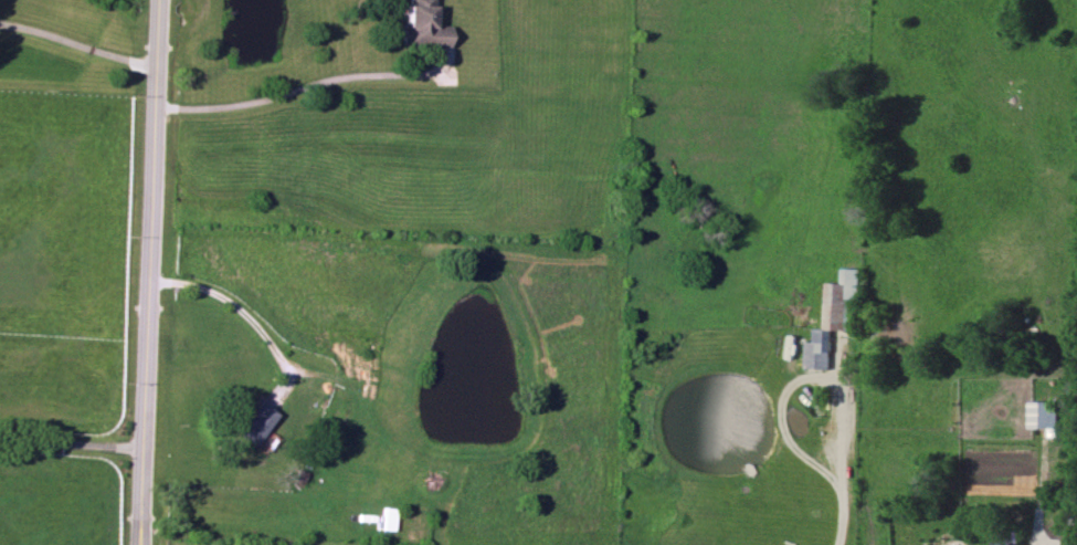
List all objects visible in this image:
building: (420, 25)
road: (78, 44)
road: (293, 90)
road: (151, 272)
road: (236, 306)
building: (834, 317)
road: (801, 378)
building: (1045, 415)
building: (254, 423)
road: (73, 443)
road: (842, 516)
building: (387, 518)

